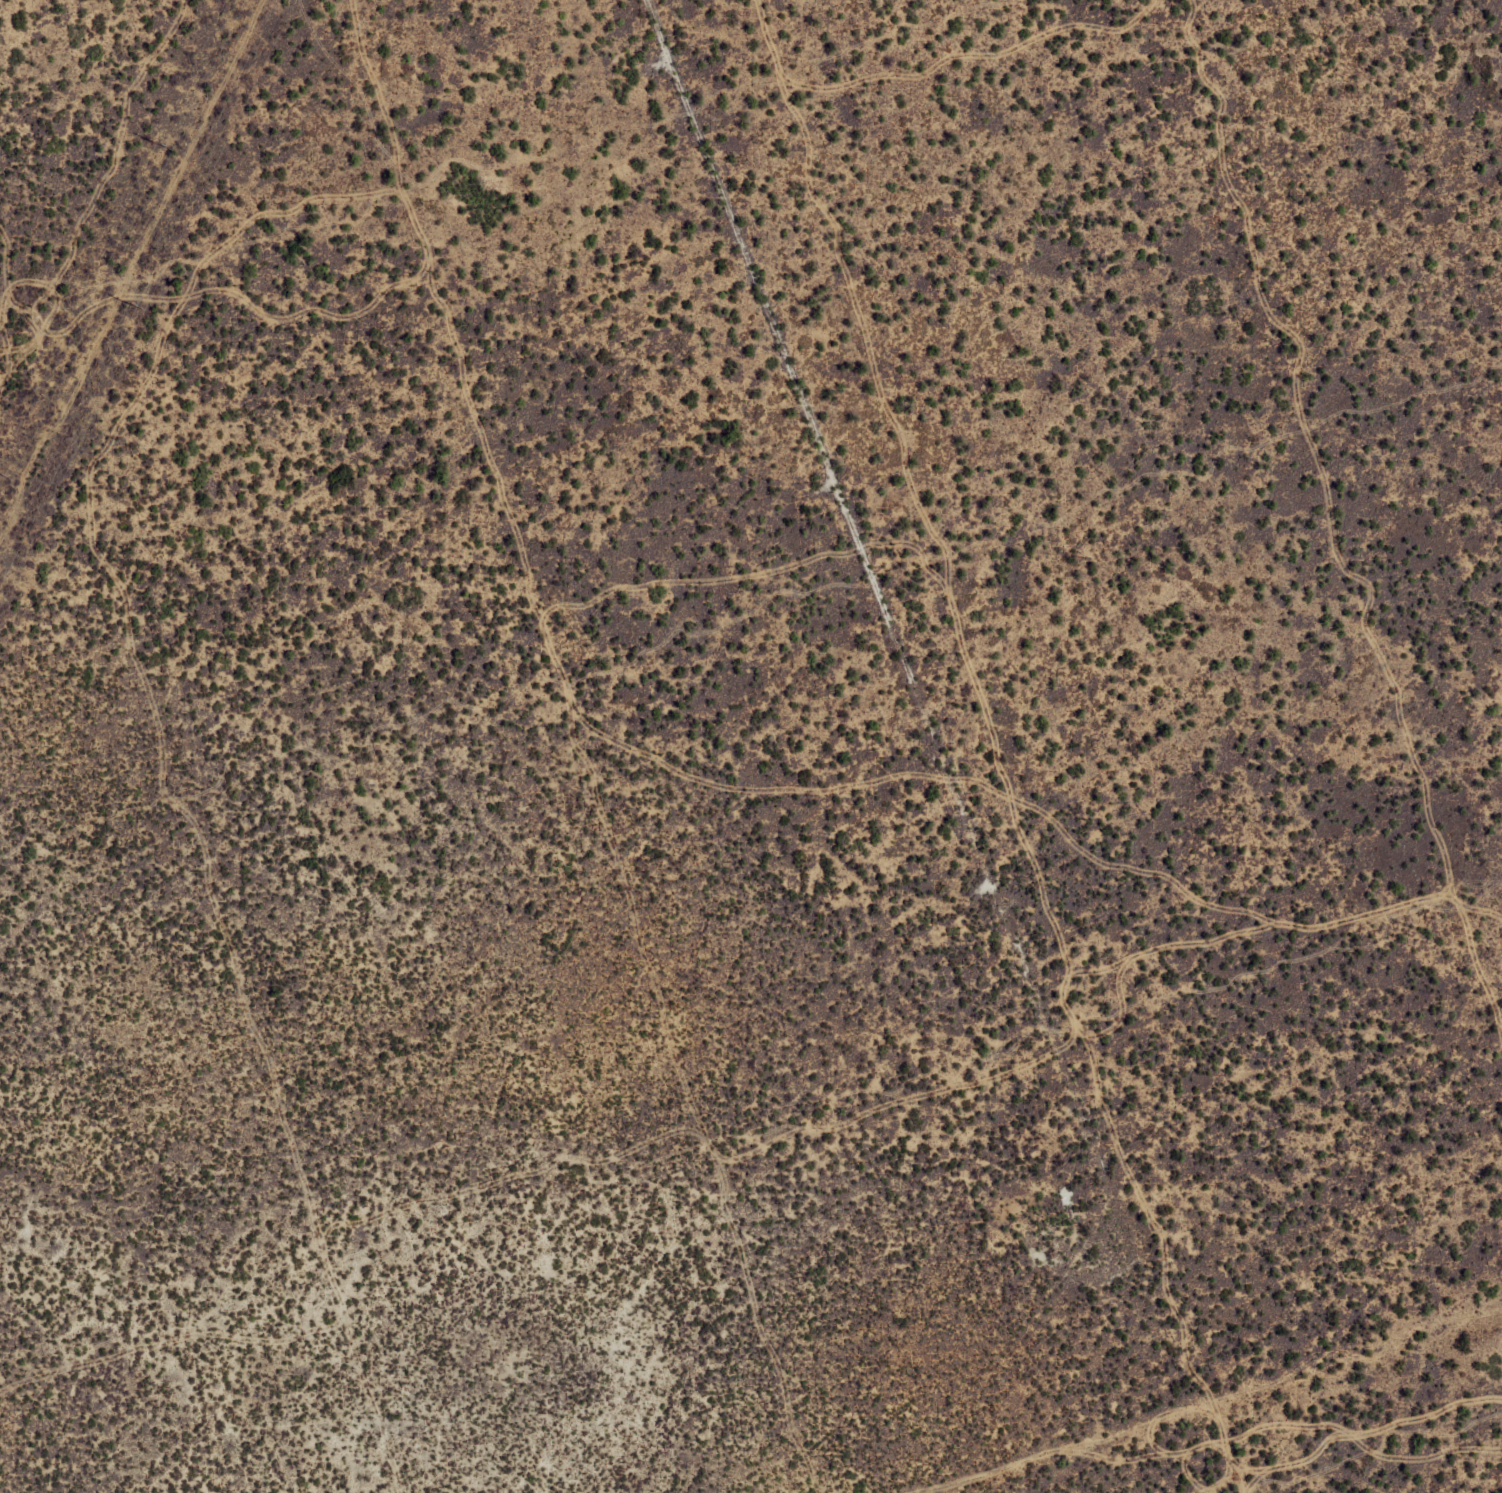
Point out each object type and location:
power tower: (164, 146)
power tower: (135, 308)
power tower: (3, 478)
road: (876, 549)

